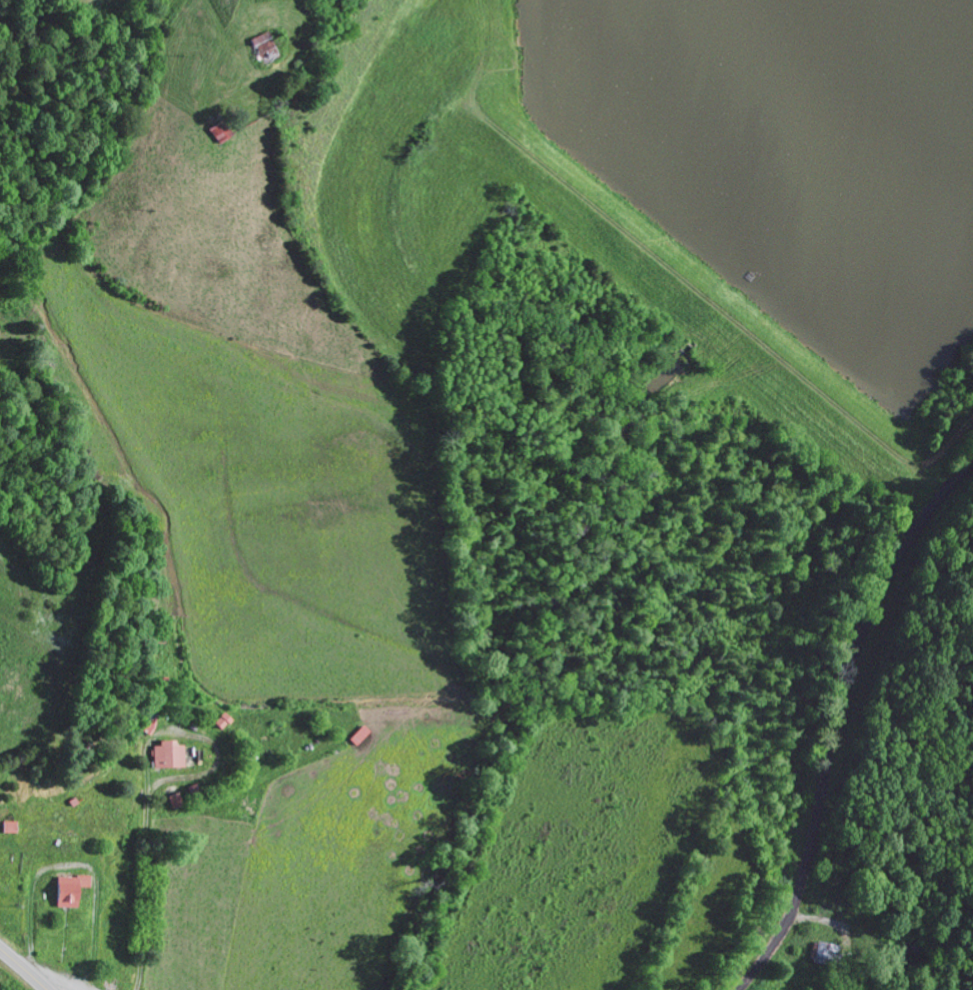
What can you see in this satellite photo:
building: (263, 46)
building: (220, 132)
road: (840, 718)
building: (170, 754)
building: (178, 800)
building: (71, 889)
building: (828, 953)
road: (22, 969)

